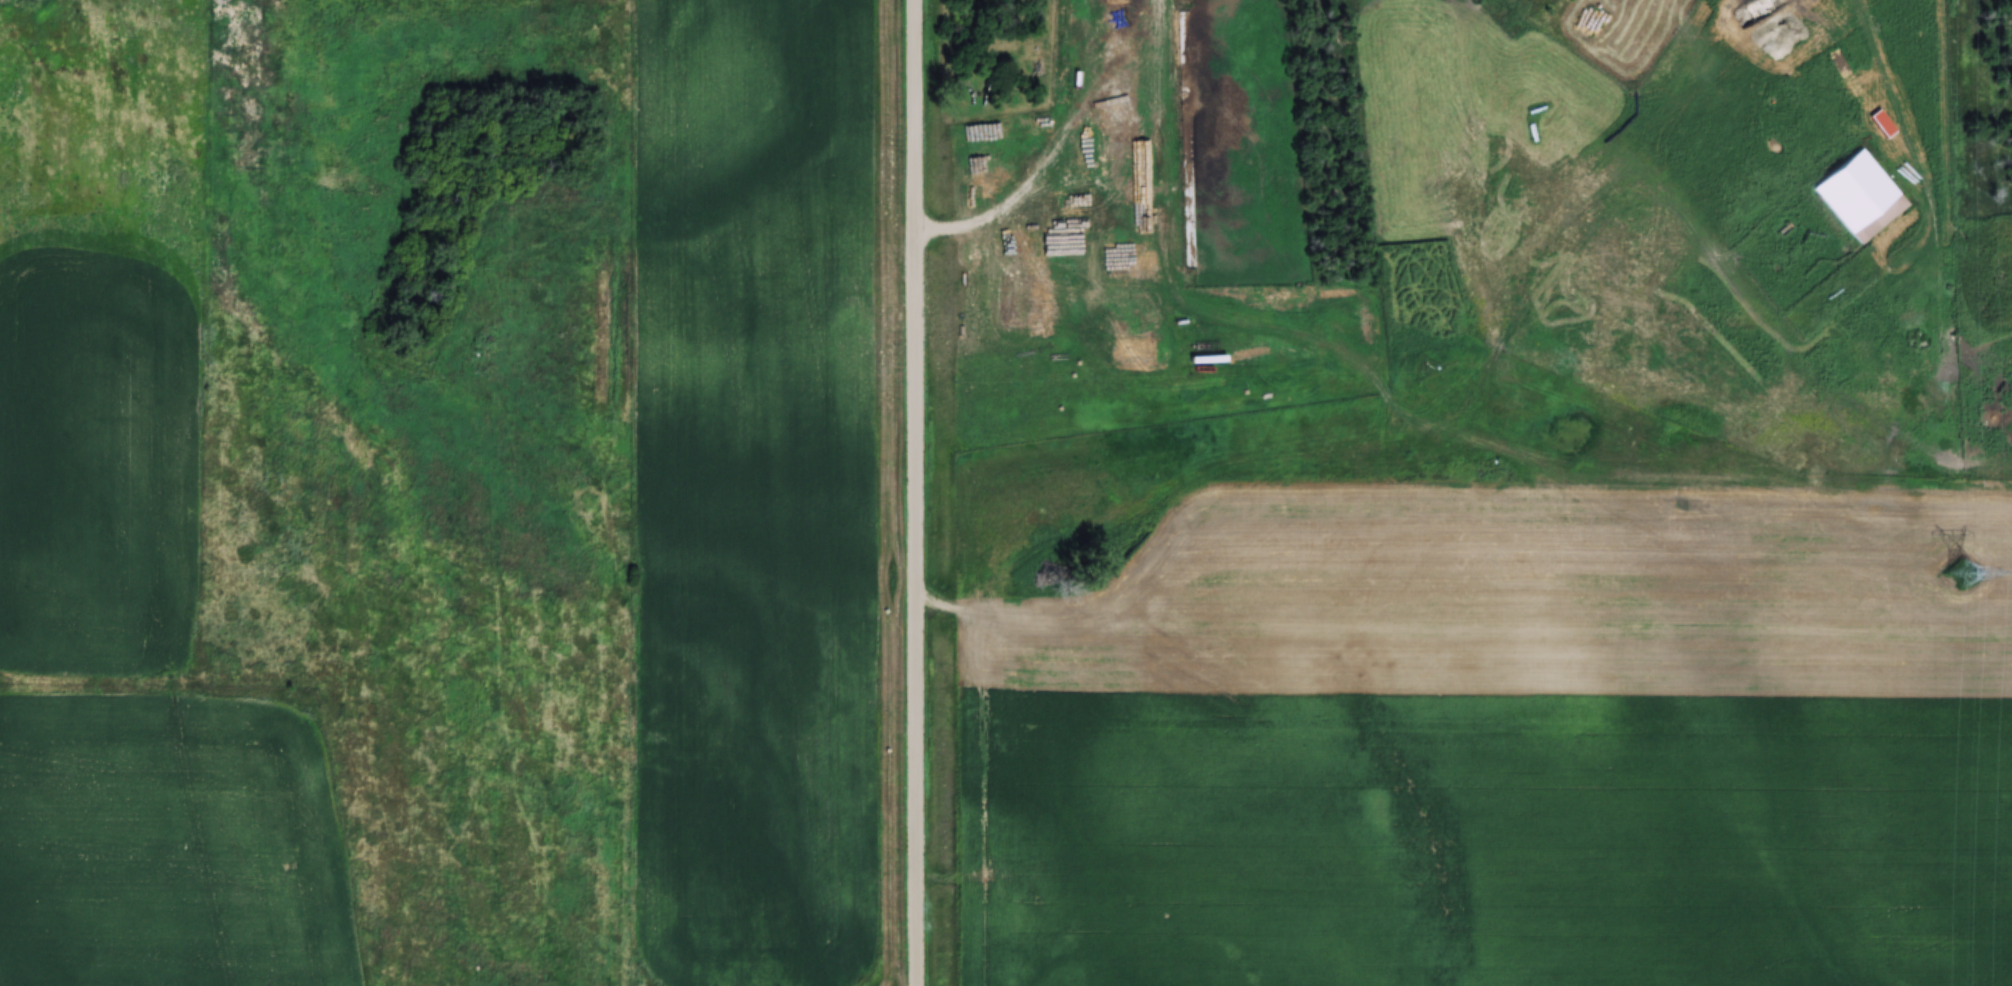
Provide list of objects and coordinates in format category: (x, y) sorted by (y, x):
building: (1852, 186)
road: (911, 492)
power tower: (1960, 574)

